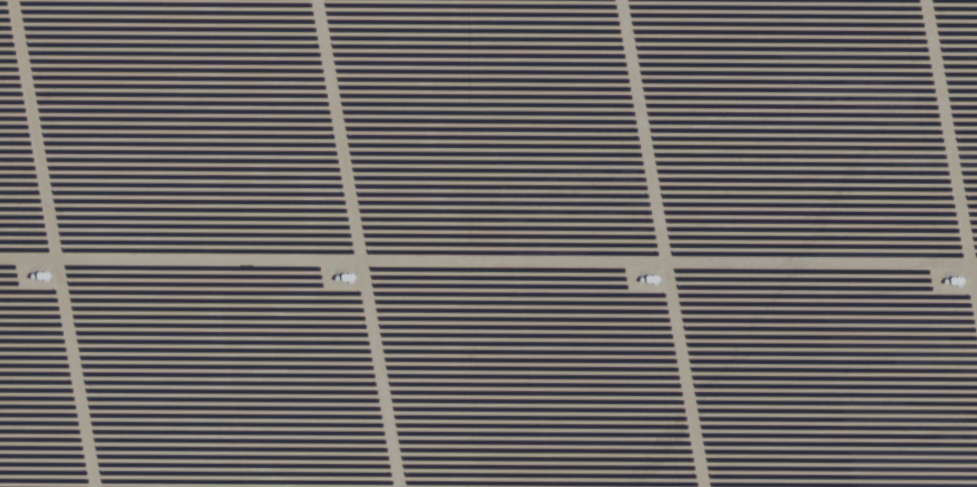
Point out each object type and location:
solar farm: (488, 243)

